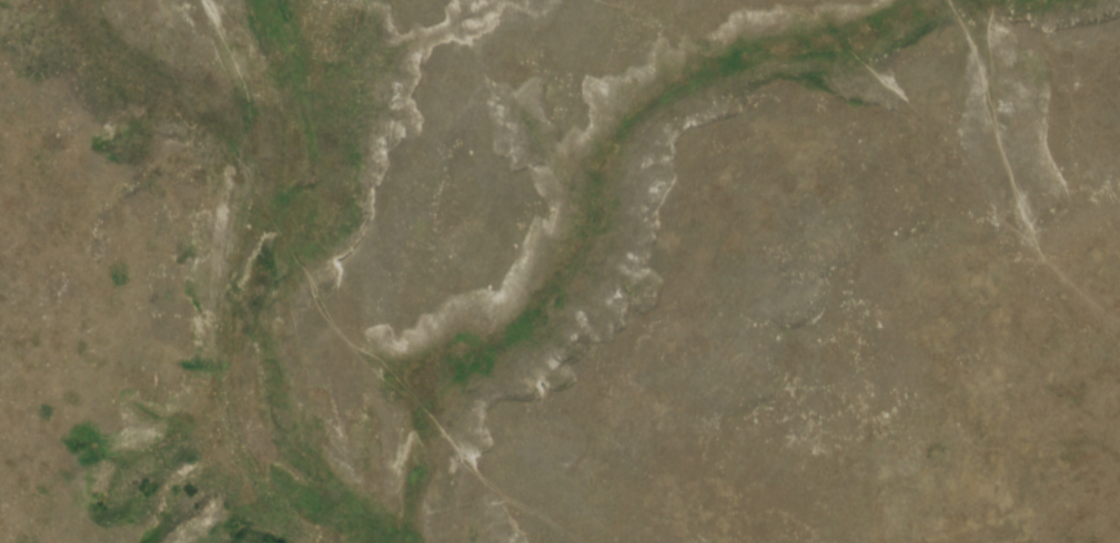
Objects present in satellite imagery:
road: (190, 283)

